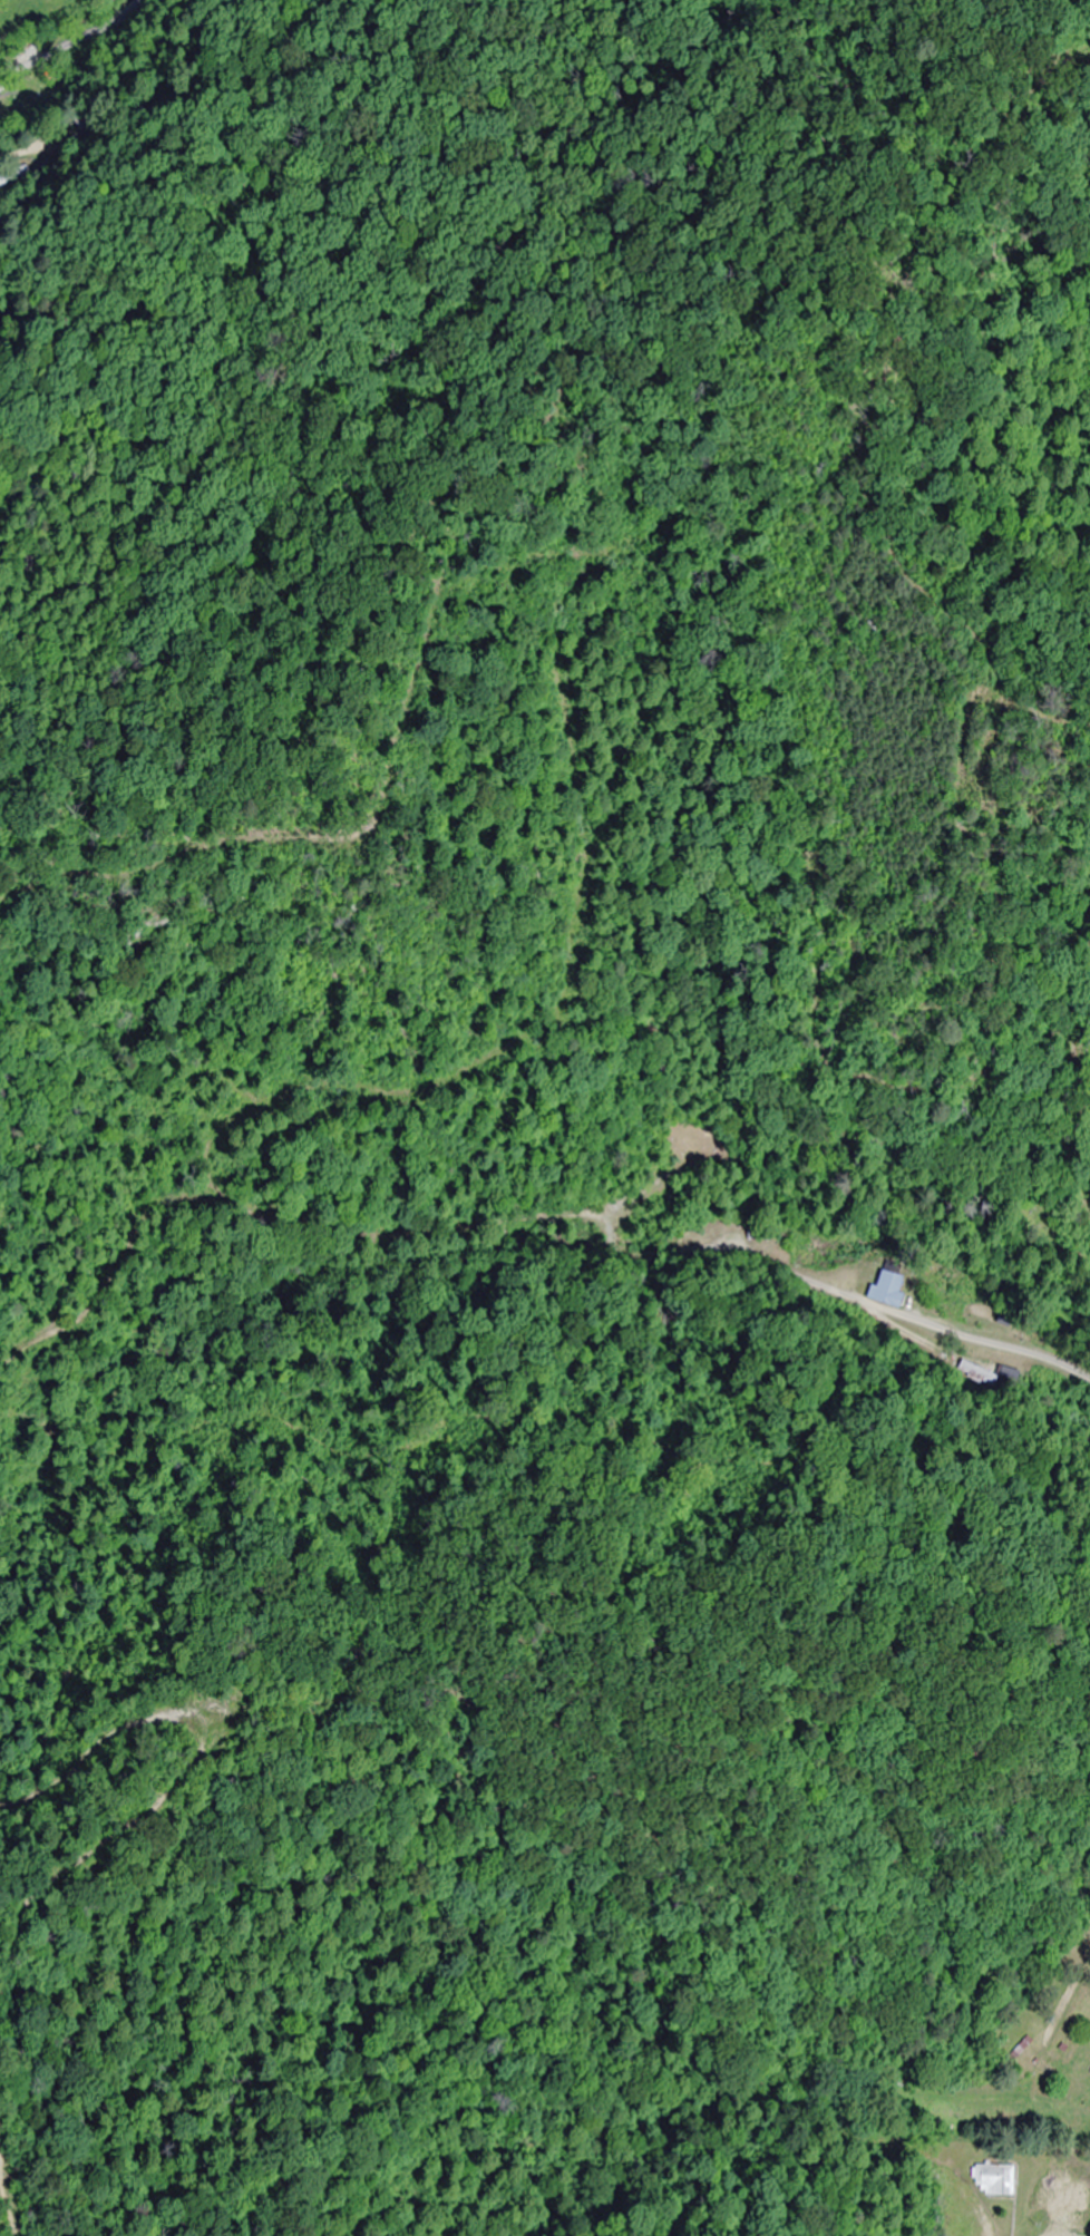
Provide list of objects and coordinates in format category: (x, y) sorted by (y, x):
road: (74, 41)
building: (12, 98)
road: (1080, 1287)
building: (889, 1289)
road: (911, 1364)
building: (997, 2179)

